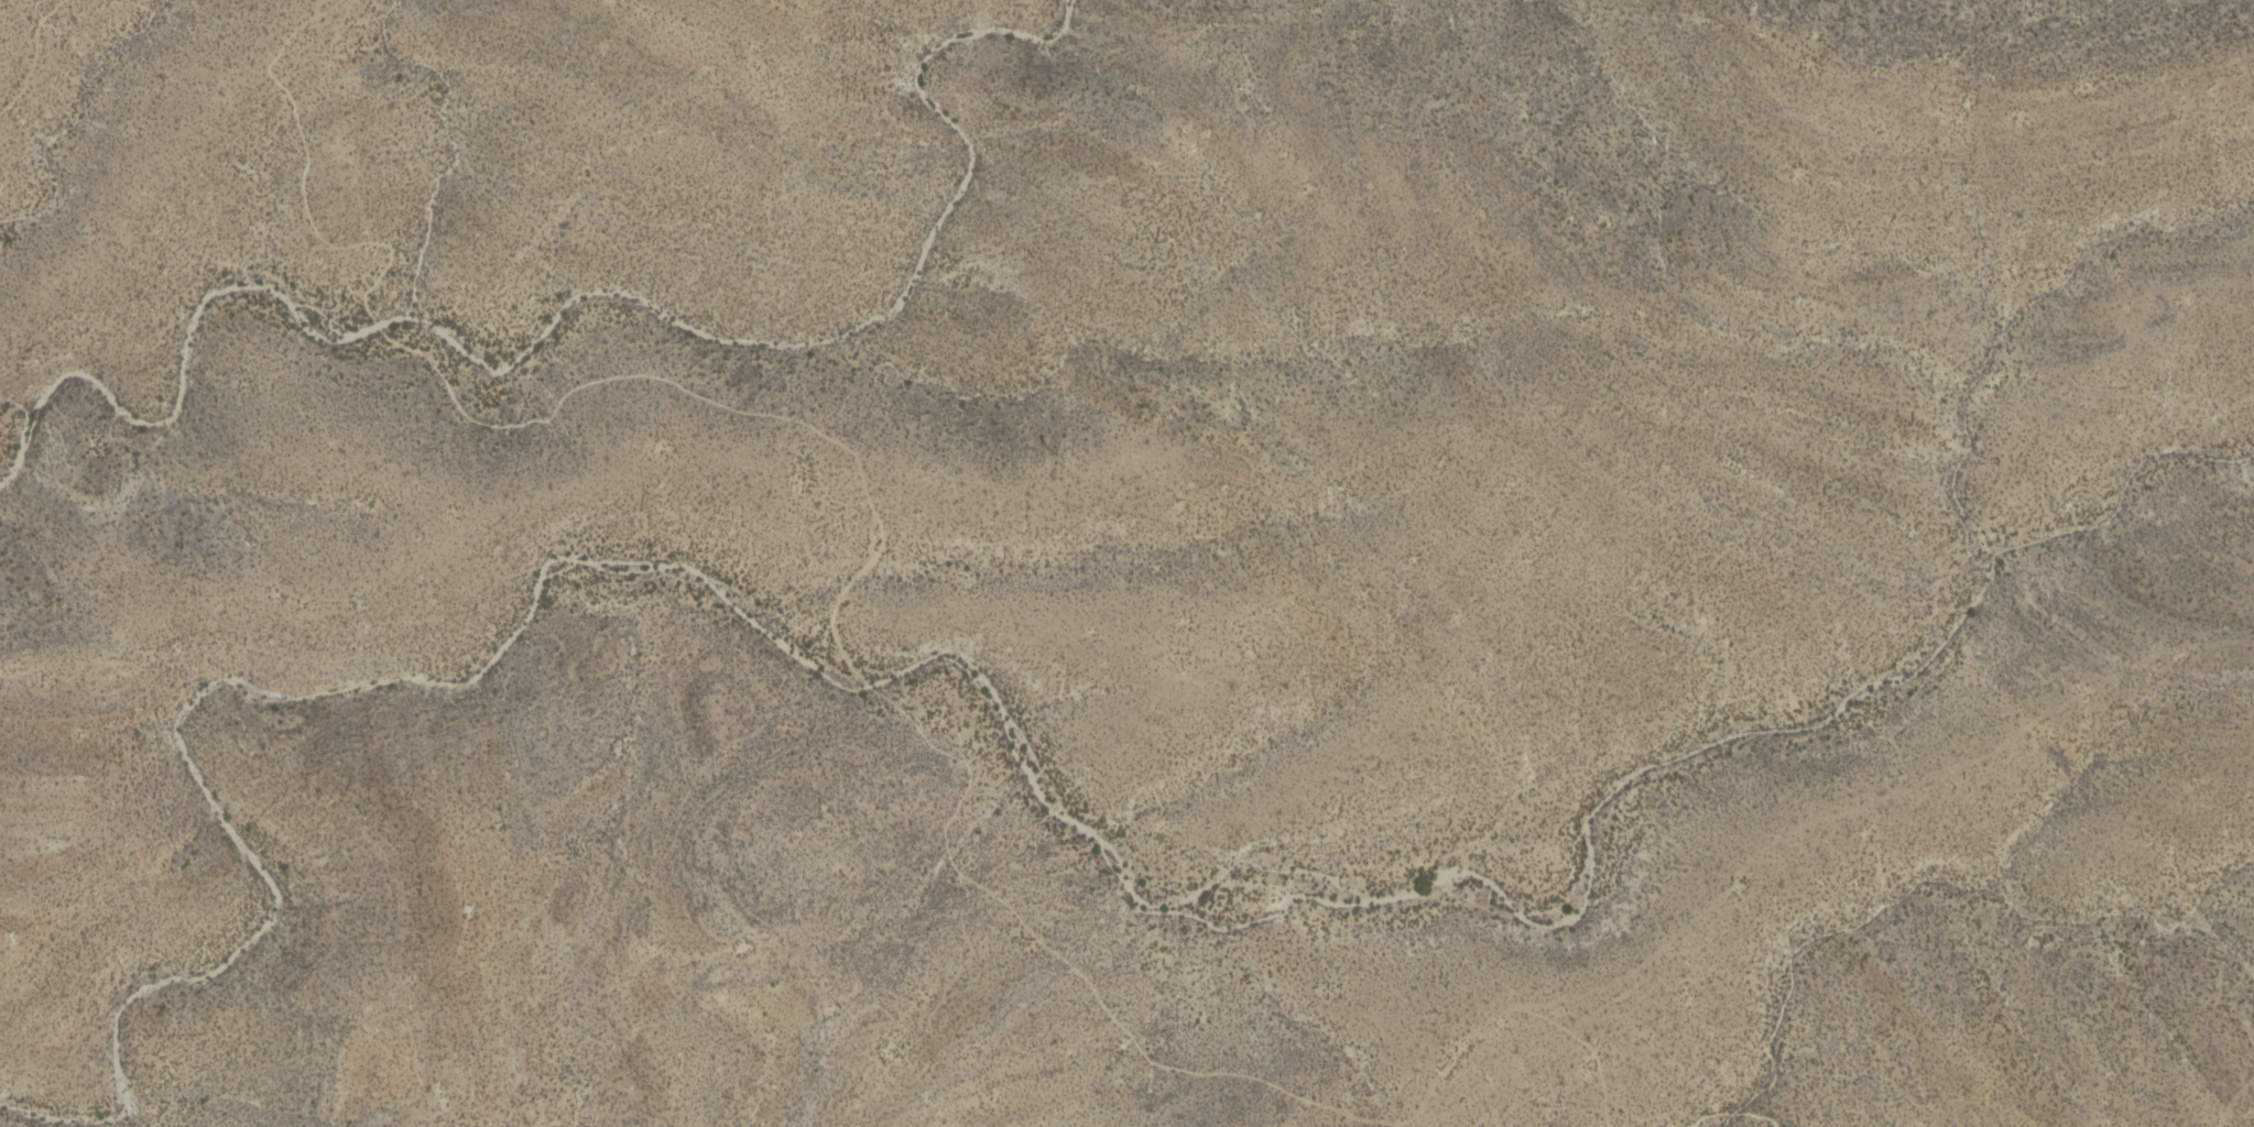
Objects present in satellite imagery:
road: (43, 55)
road: (842, 609)
road: (1730, 1119)

